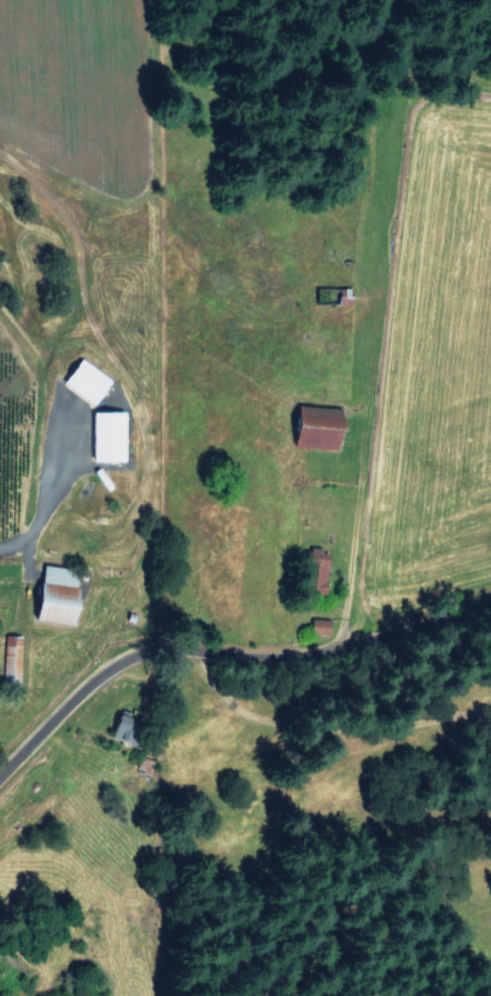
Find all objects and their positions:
building: (83, 379)
building: (314, 425)
building: (105, 435)
road: (51, 482)
building: (54, 593)
building: (318, 626)
road: (225, 653)
building: (10, 659)
road: (331, 716)
building: (120, 727)

